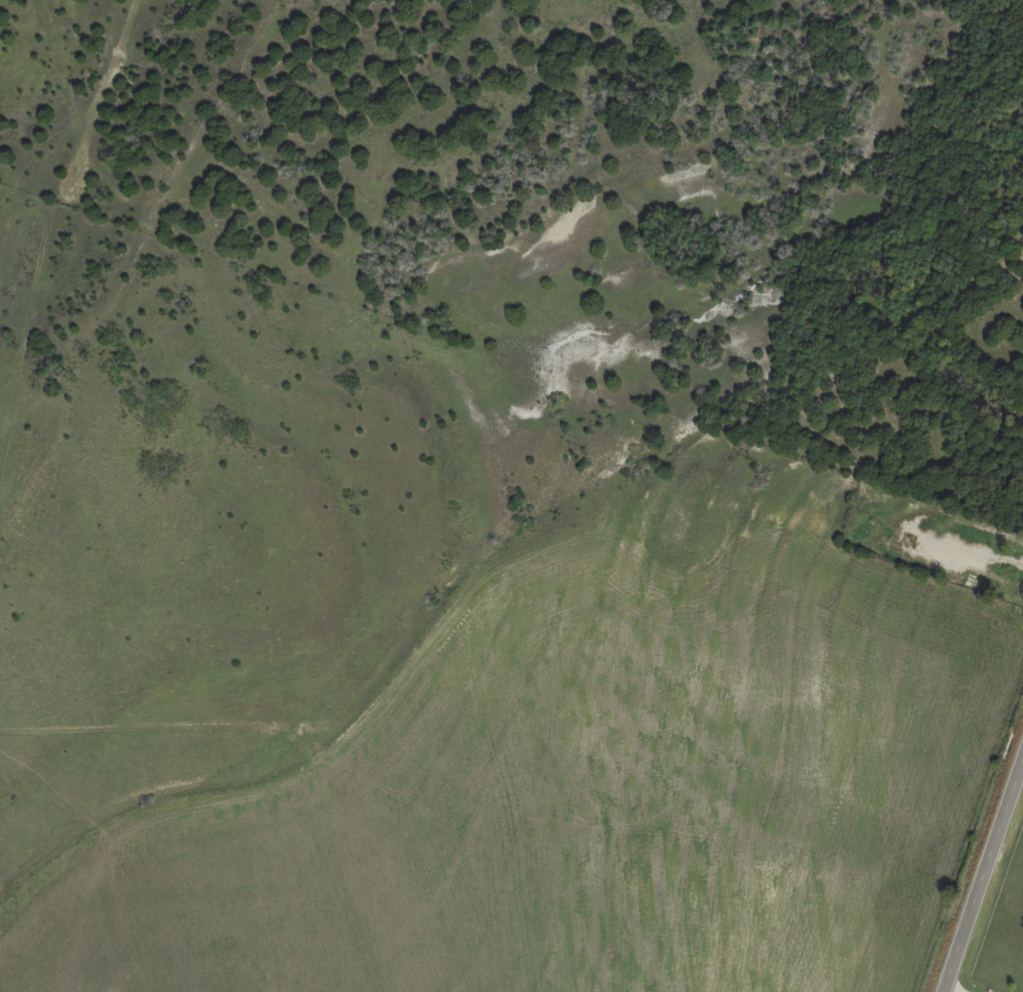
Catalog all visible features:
road: (983, 875)
road: (945, 991)

